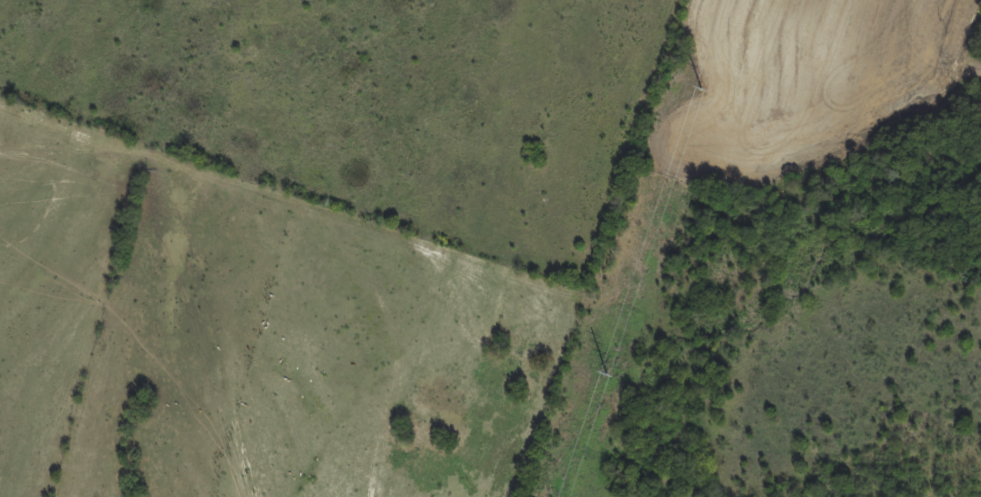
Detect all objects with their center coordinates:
power tower: (705, 89)

